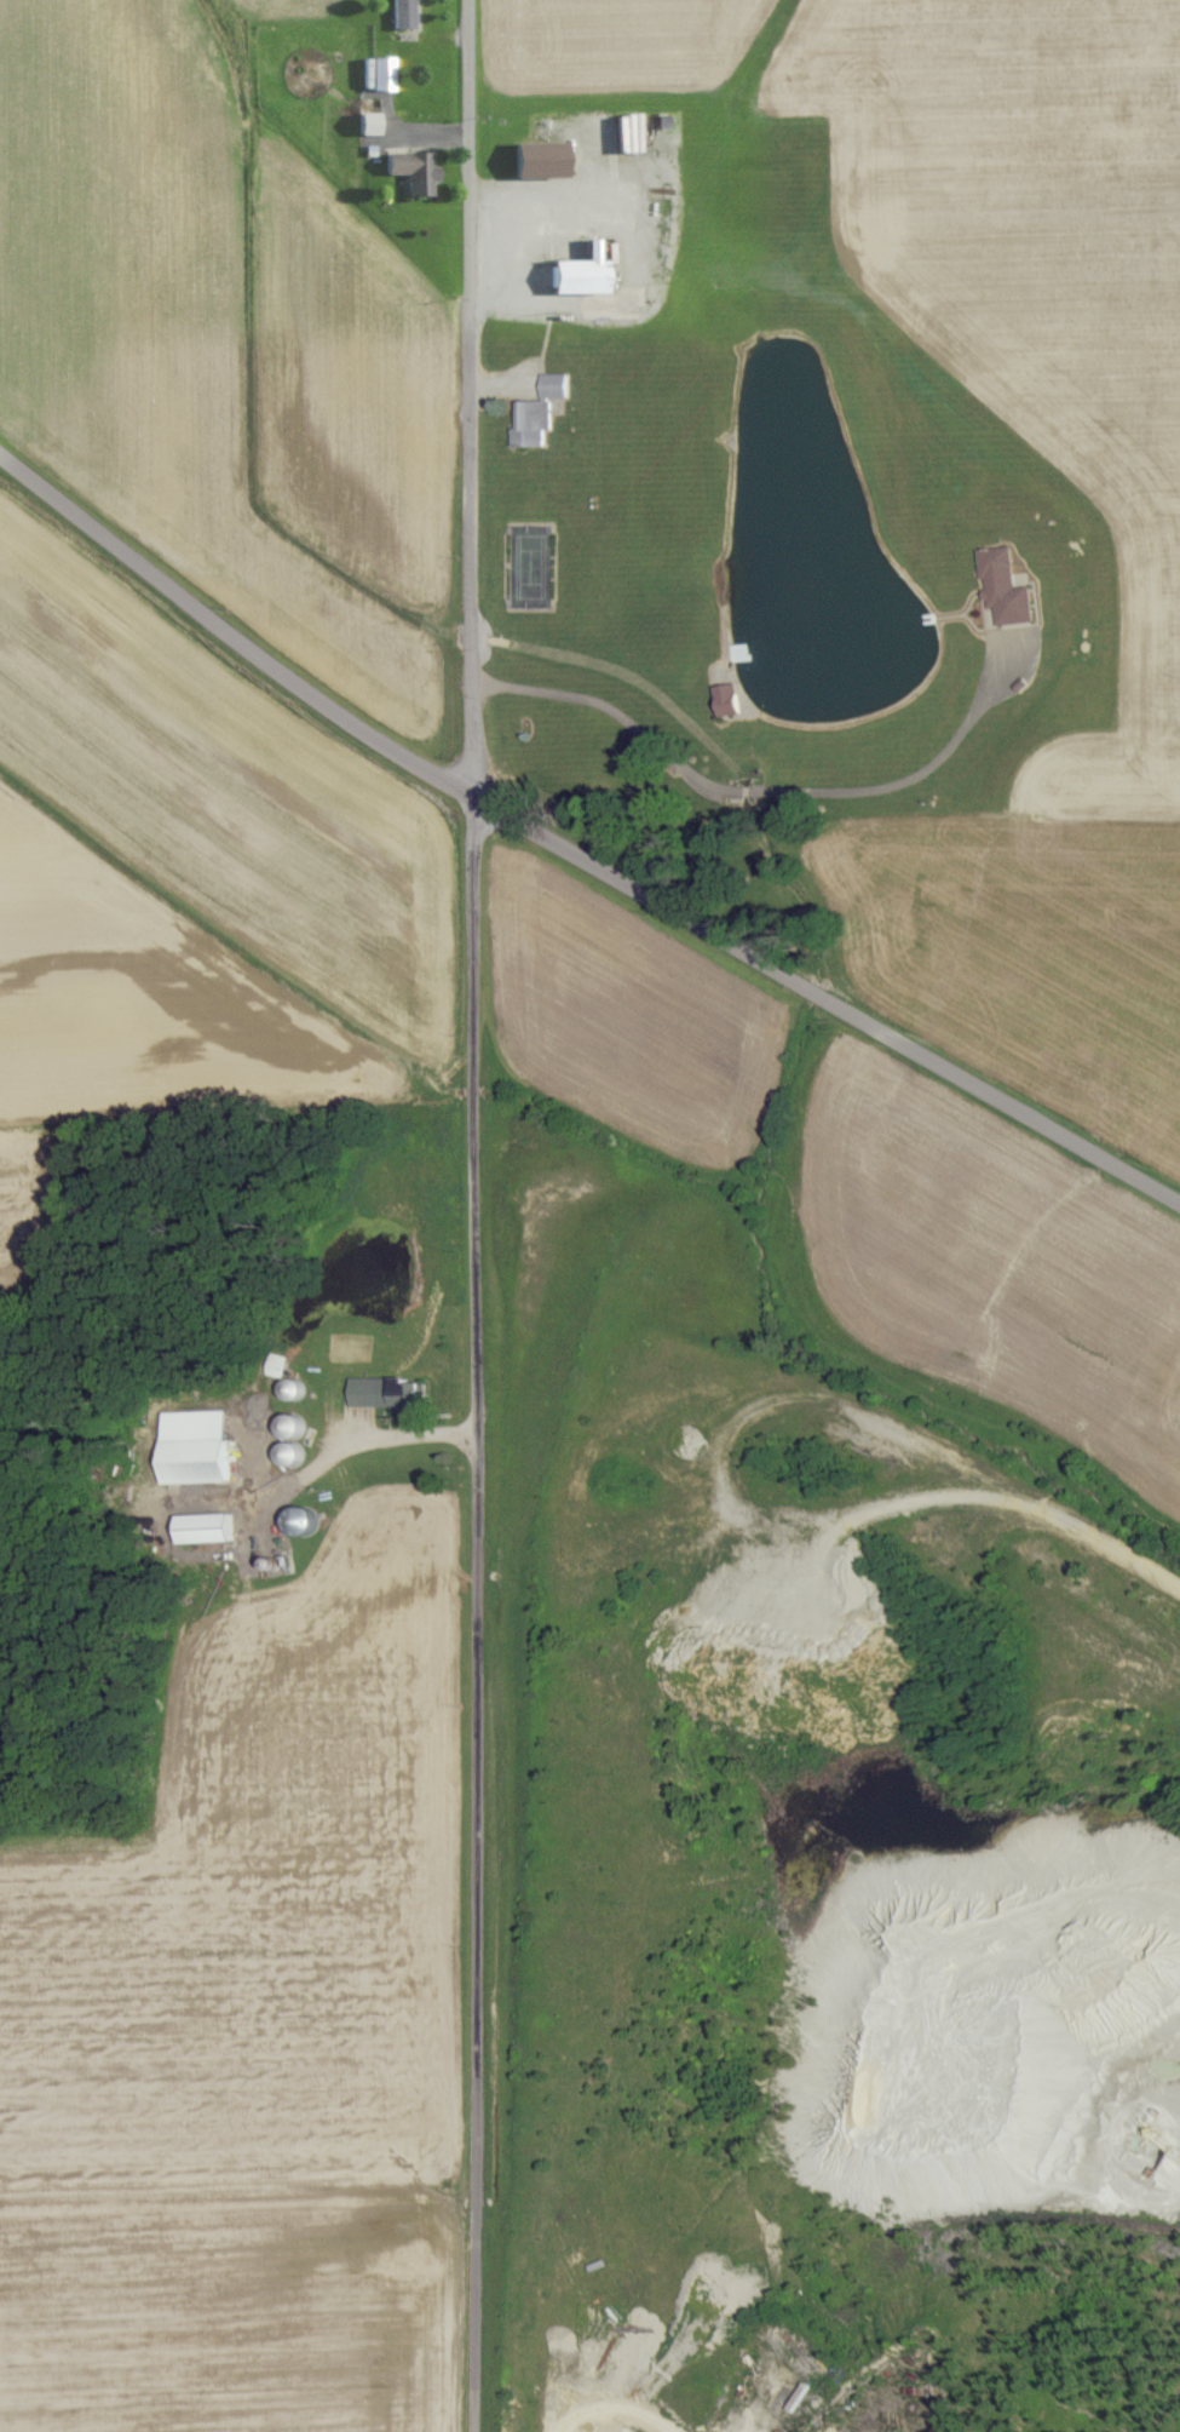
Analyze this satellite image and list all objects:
building: (397, 13)
building: (374, 73)
building: (359, 122)
building: (529, 160)
building: (405, 171)
road: (627, 254)
building: (570, 273)
building: (534, 409)
park: (528, 564)
building: (996, 587)
building: (733, 652)
building: (720, 700)
road: (769, 797)
road: (576, 864)
road: (473, 1215)
building: (276, 1375)
building: (375, 1389)
building: (280, 1439)
building: (185, 1459)
building: (192, 1527)
quarry: (804, 1875)
building: (801, 2397)

